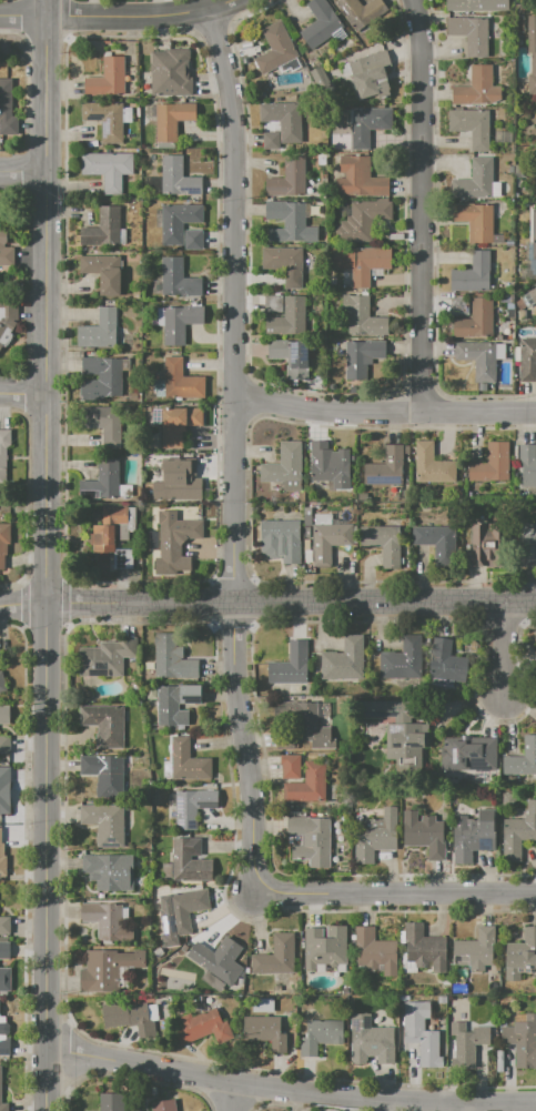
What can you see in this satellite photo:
building: (475, 4)
road: (120, 14)
building: (362, 14)
road: (24, 16)
road: (65, 17)
building: (320, 23)
road: (44, 32)
road: (21, 33)
building: (471, 33)
road: (22, 37)
road: (69, 37)
park: (11, 44)
building: (274, 48)
building: (530, 54)
building: (169, 73)
building: (367, 73)
building: (107, 78)
building: (476, 89)
building: (123, 99)
building: (151, 110)
building: (7, 111)
building: (136, 111)
building: (128, 115)
building: (104, 119)
building: (171, 120)
building: (365, 125)
building: (281, 127)
building: (472, 127)
building: (138, 151)
building: (152, 156)
building: (107, 169)
road: (22, 171)
building: (289, 178)
building: (358, 178)
building: (176, 179)
building: (474, 181)
road: (421, 206)
building: (175, 221)
building: (362, 221)
building: (474, 221)
building: (289, 223)
building: (102, 229)
building: (534, 235)
building: (122, 236)
building: (192, 240)
building: (4, 251)
building: (284, 262)
building: (360, 262)
building: (102, 273)
building: (472, 273)
building: (176, 280)
building: (535, 287)
building: (8, 312)
building: (362, 316)
building: (287, 317)
building: (475, 321)
building: (178, 324)
building: (98, 331)
building: (1, 345)
building: (290, 357)
building: (361, 358)
building: (477, 360)
building: (527, 360)
building: (100, 377)
building: (180, 382)
building: (158, 388)
road: (20, 394)
road: (384, 413)
building: (105, 424)
building: (176, 424)
building: (3, 450)
road: (234, 450)
building: (527, 463)
building: (491, 464)
building: (330, 465)
building: (283, 466)
building: (432, 467)
building: (384, 468)
building: (179, 481)
building: (108, 482)
building: (307, 516)
building: (323, 518)
building: (111, 527)
building: (528, 534)
building: (283, 538)
building: (436, 541)
building: (381, 542)
building: (3, 543)
building: (174, 543)
building: (326, 543)
building: (481, 546)
road: (43, 555)
building: (123, 558)
building: (307, 558)
road: (232, 583)
road: (290, 600)
road: (214, 602)
road: (249, 602)
road: (21, 604)
road: (232, 619)
road: (499, 645)
building: (105, 658)
building: (171, 658)
building: (403, 659)
building: (344, 660)
building: (446, 661)
building: (291, 665)
building: (2, 681)
building: (175, 703)
building: (325, 707)
building: (3, 714)
building: (104, 724)
building: (309, 724)
building: (400, 729)
building: (284, 740)
building: (3, 744)
building: (468, 755)
building: (518, 756)
building: (185, 760)
building: (290, 767)
building: (105, 775)
building: (306, 785)
building: (4, 790)
building: (507, 798)
building: (191, 806)
building: (102, 824)
building: (518, 832)
building: (424, 835)
building: (472, 835)
building: (373, 836)
building: (311, 839)
building: (2, 859)
building: (188, 862)
building: (166, 870)
building: (108, 871)
road: (395, 891)
building: (183, 909)
building: (107, 921)
building: (4, 925)
building: (324, 947)
building: (424, 949)
building: (3, 950)
building: (475, 950)
building: (374, 951)
building: (159, 952)
building: (275, 955)
building: (519, 956)
building: (218, 958)
building: (107, 969)
building: (4, 979)
building: (0, 1012)
building: (131, 1018)
building: (201, 1028)
building: (264, 1031)
building: (321, 1034)
building: (421, 1034)
building: (372, 1039)
building: (520, 1040)
building: (466, 1044)
building: (3, 1048)
building: (0, 1084)
building: (154, 1090)
road: (290, 1090)
road: (227, 1095)
building: (110, 1102)
building: (162, 1105)

